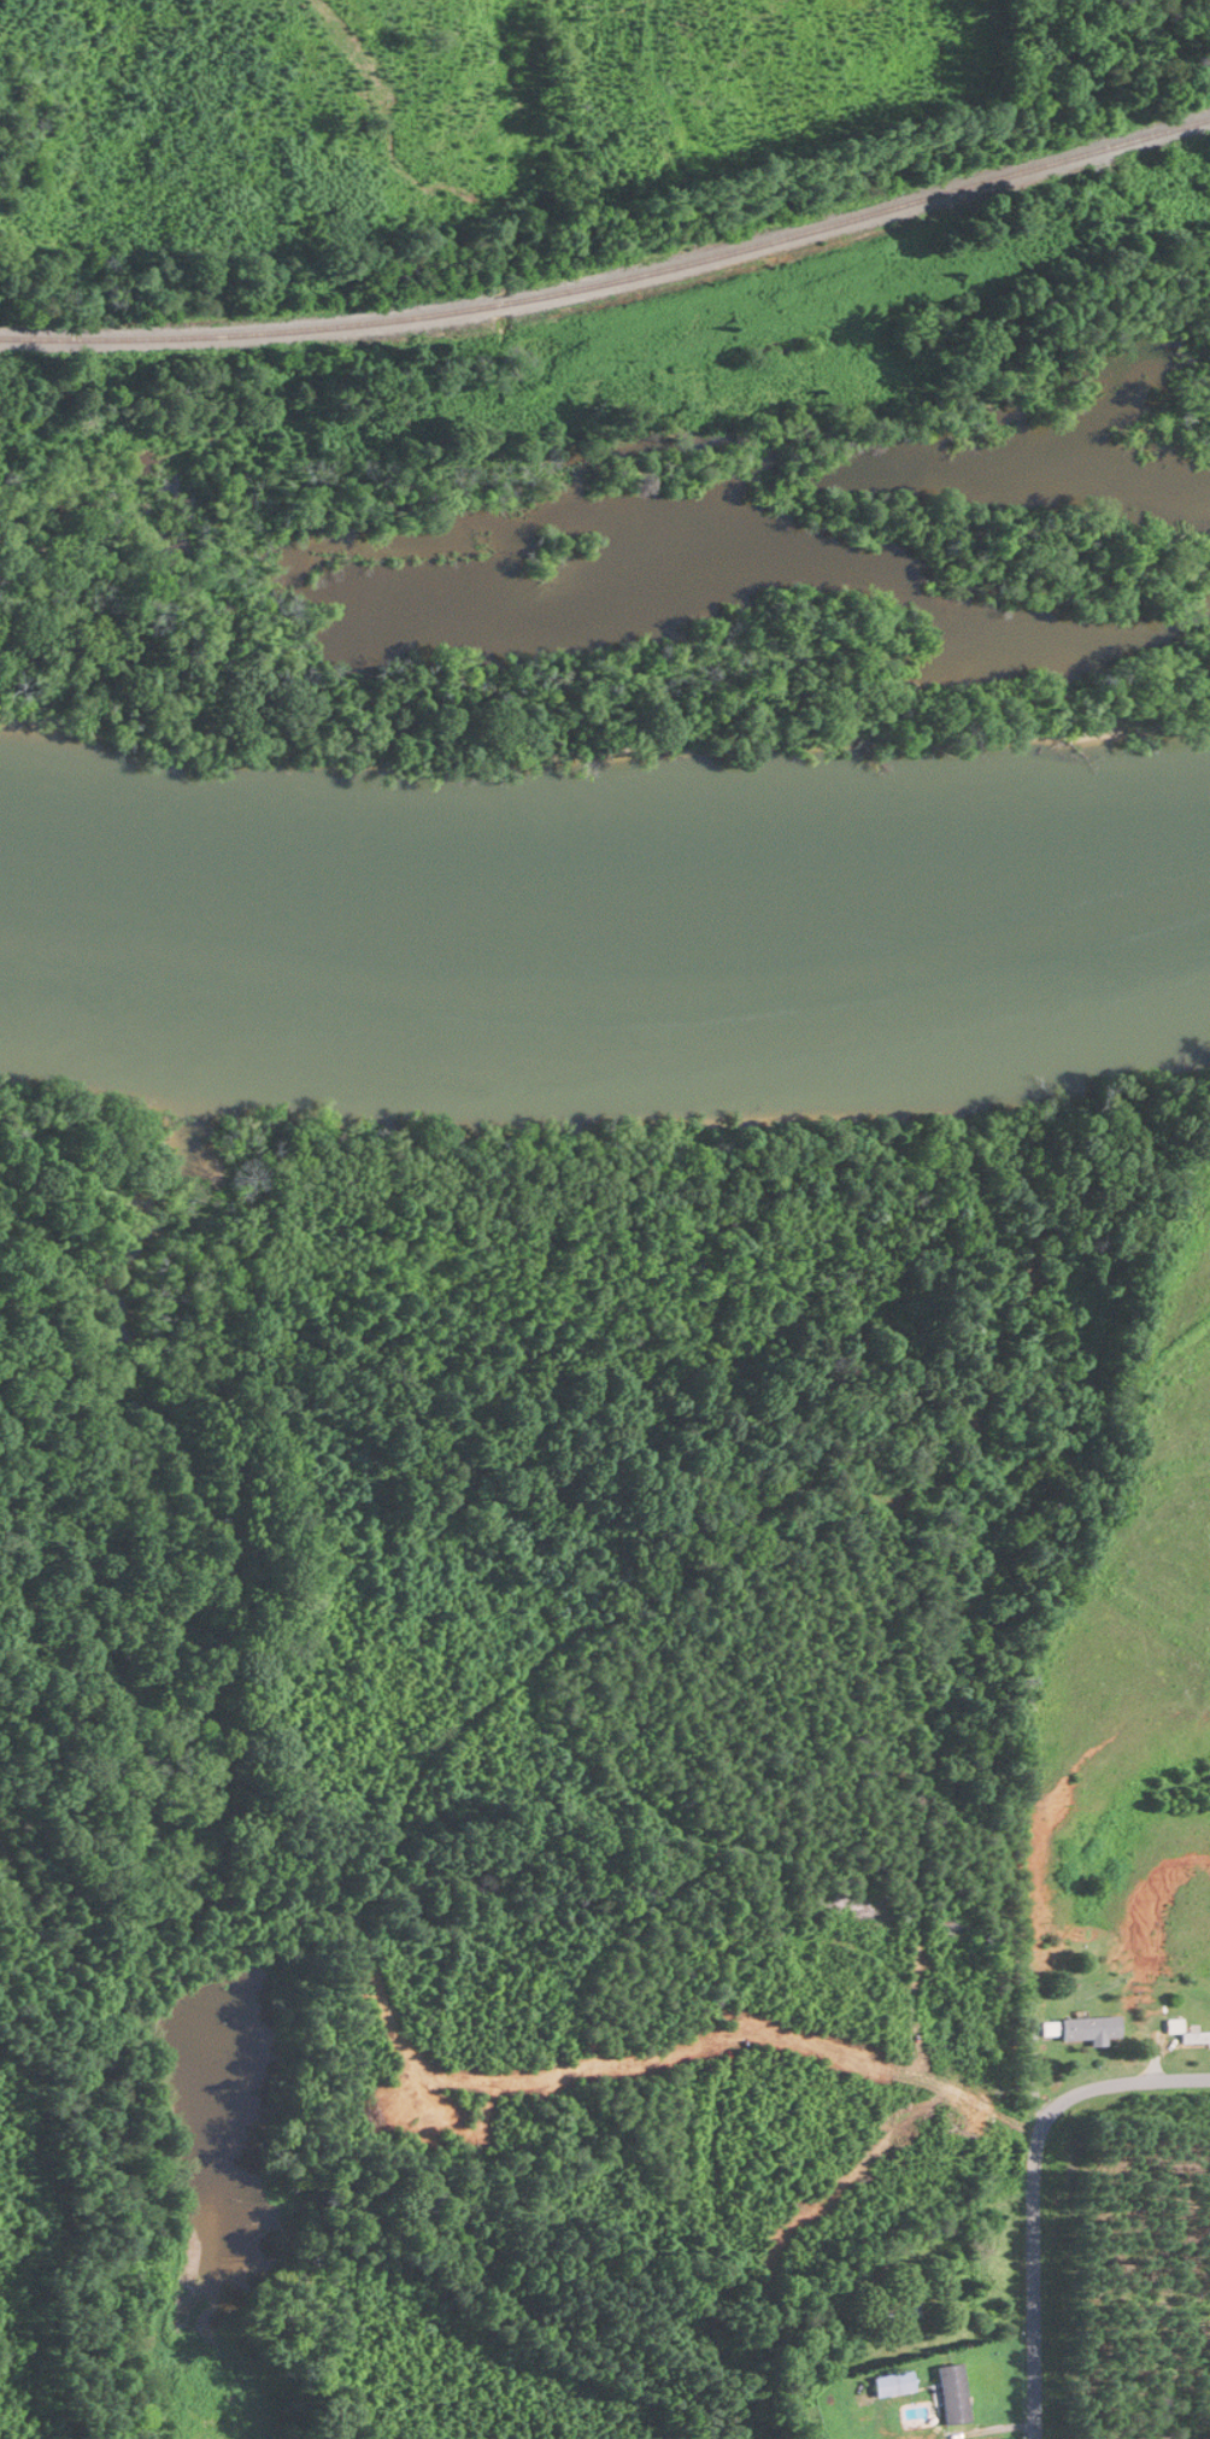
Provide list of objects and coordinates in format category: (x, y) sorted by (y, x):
railway: (613, 281)
river: (609, 799)
building: (1091, 2030)
building: (1186, 2033)
road: (1034, 2189)
building: (900, 2302)
building: (894, 2384)
building: (952, 2393)

